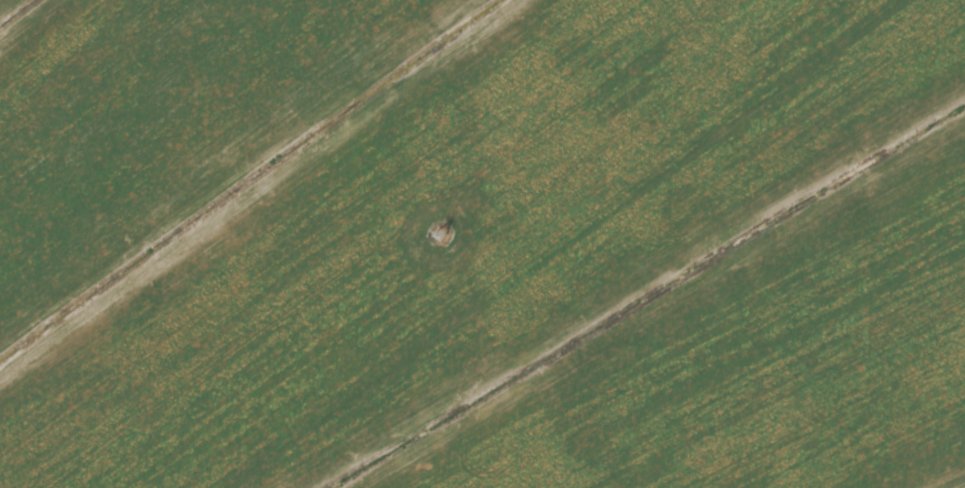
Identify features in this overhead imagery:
power tower: (442, 234)

